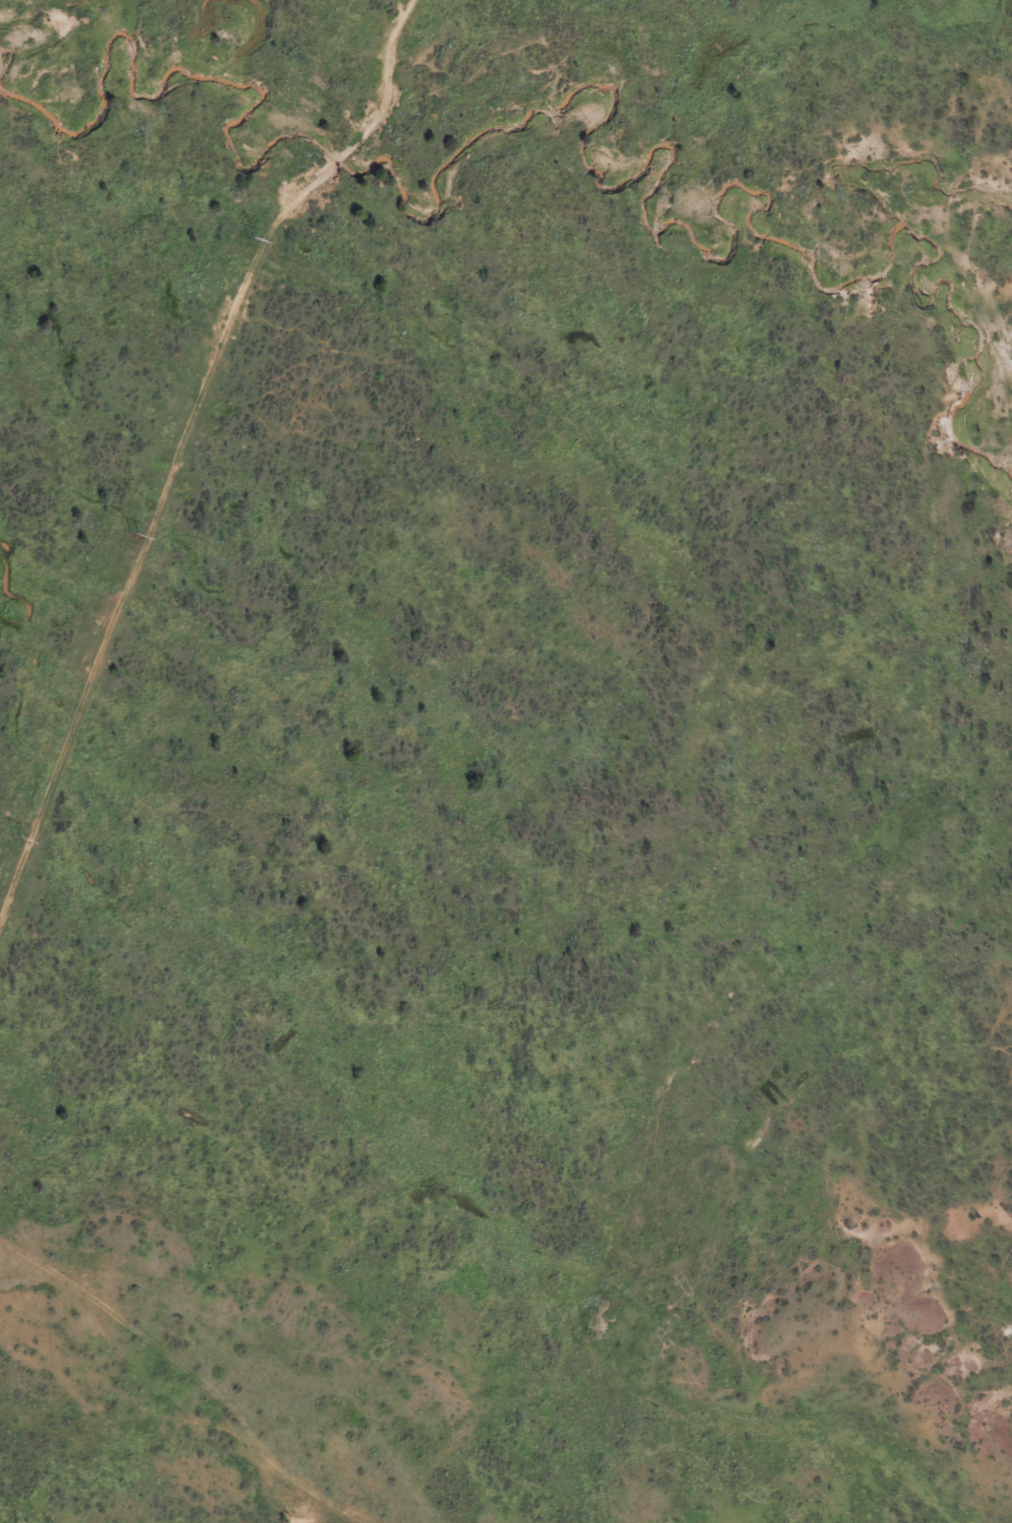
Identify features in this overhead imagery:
road: (214, 1392)

